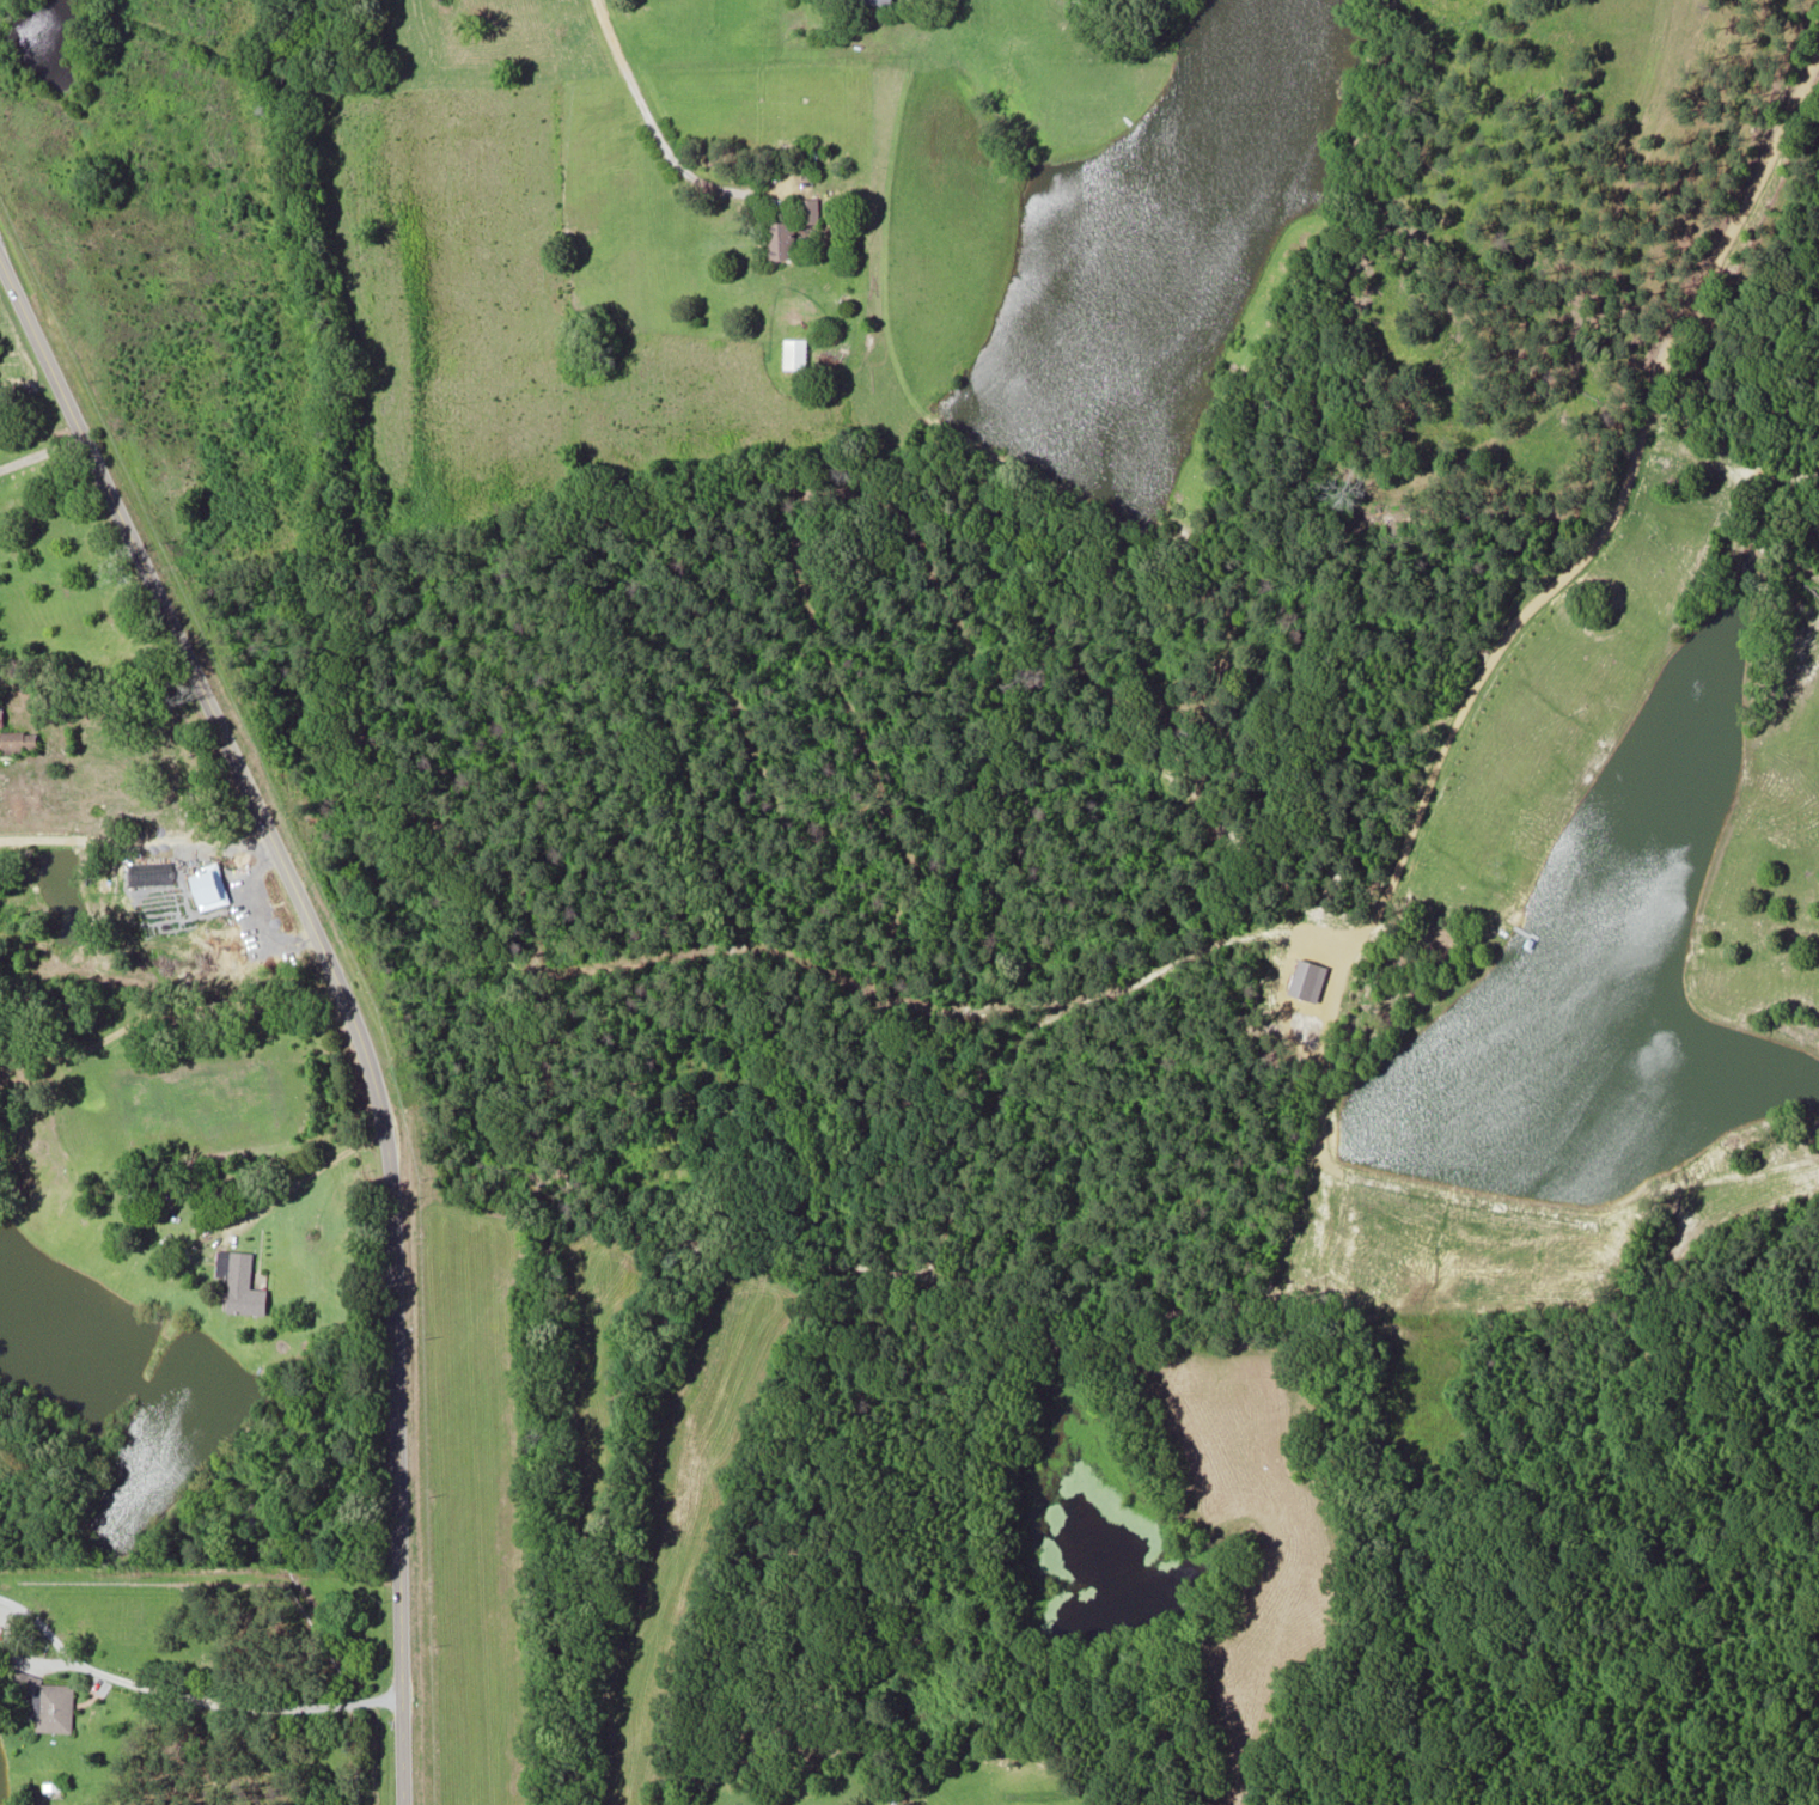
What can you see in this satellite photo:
building: (879, 1)
road: (652, 133)
building: (806, 209)
building: (779, 239)
building: (793, 352)
road: (39, 450)
building: (0, 714)
building: (17, 739)
road: (136, 839)
road: (346, 998)
road: (165, 1011)
building: (240, 1281)
road: (185, 1695)
building: (48, 1701)

